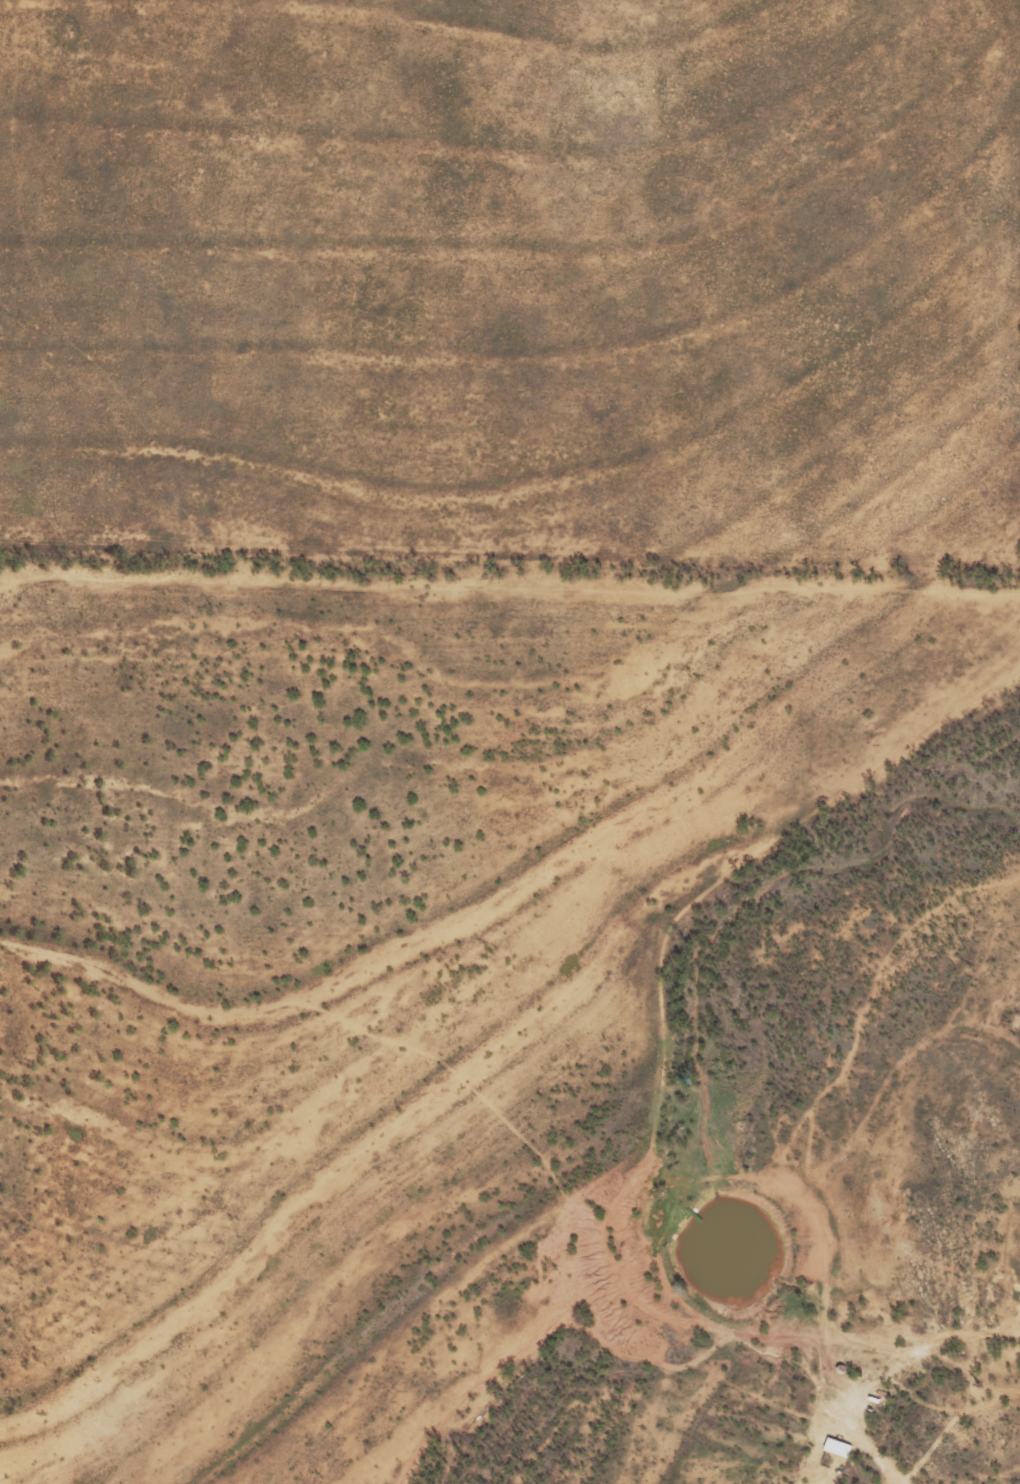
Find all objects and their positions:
building: (838, 1446)

